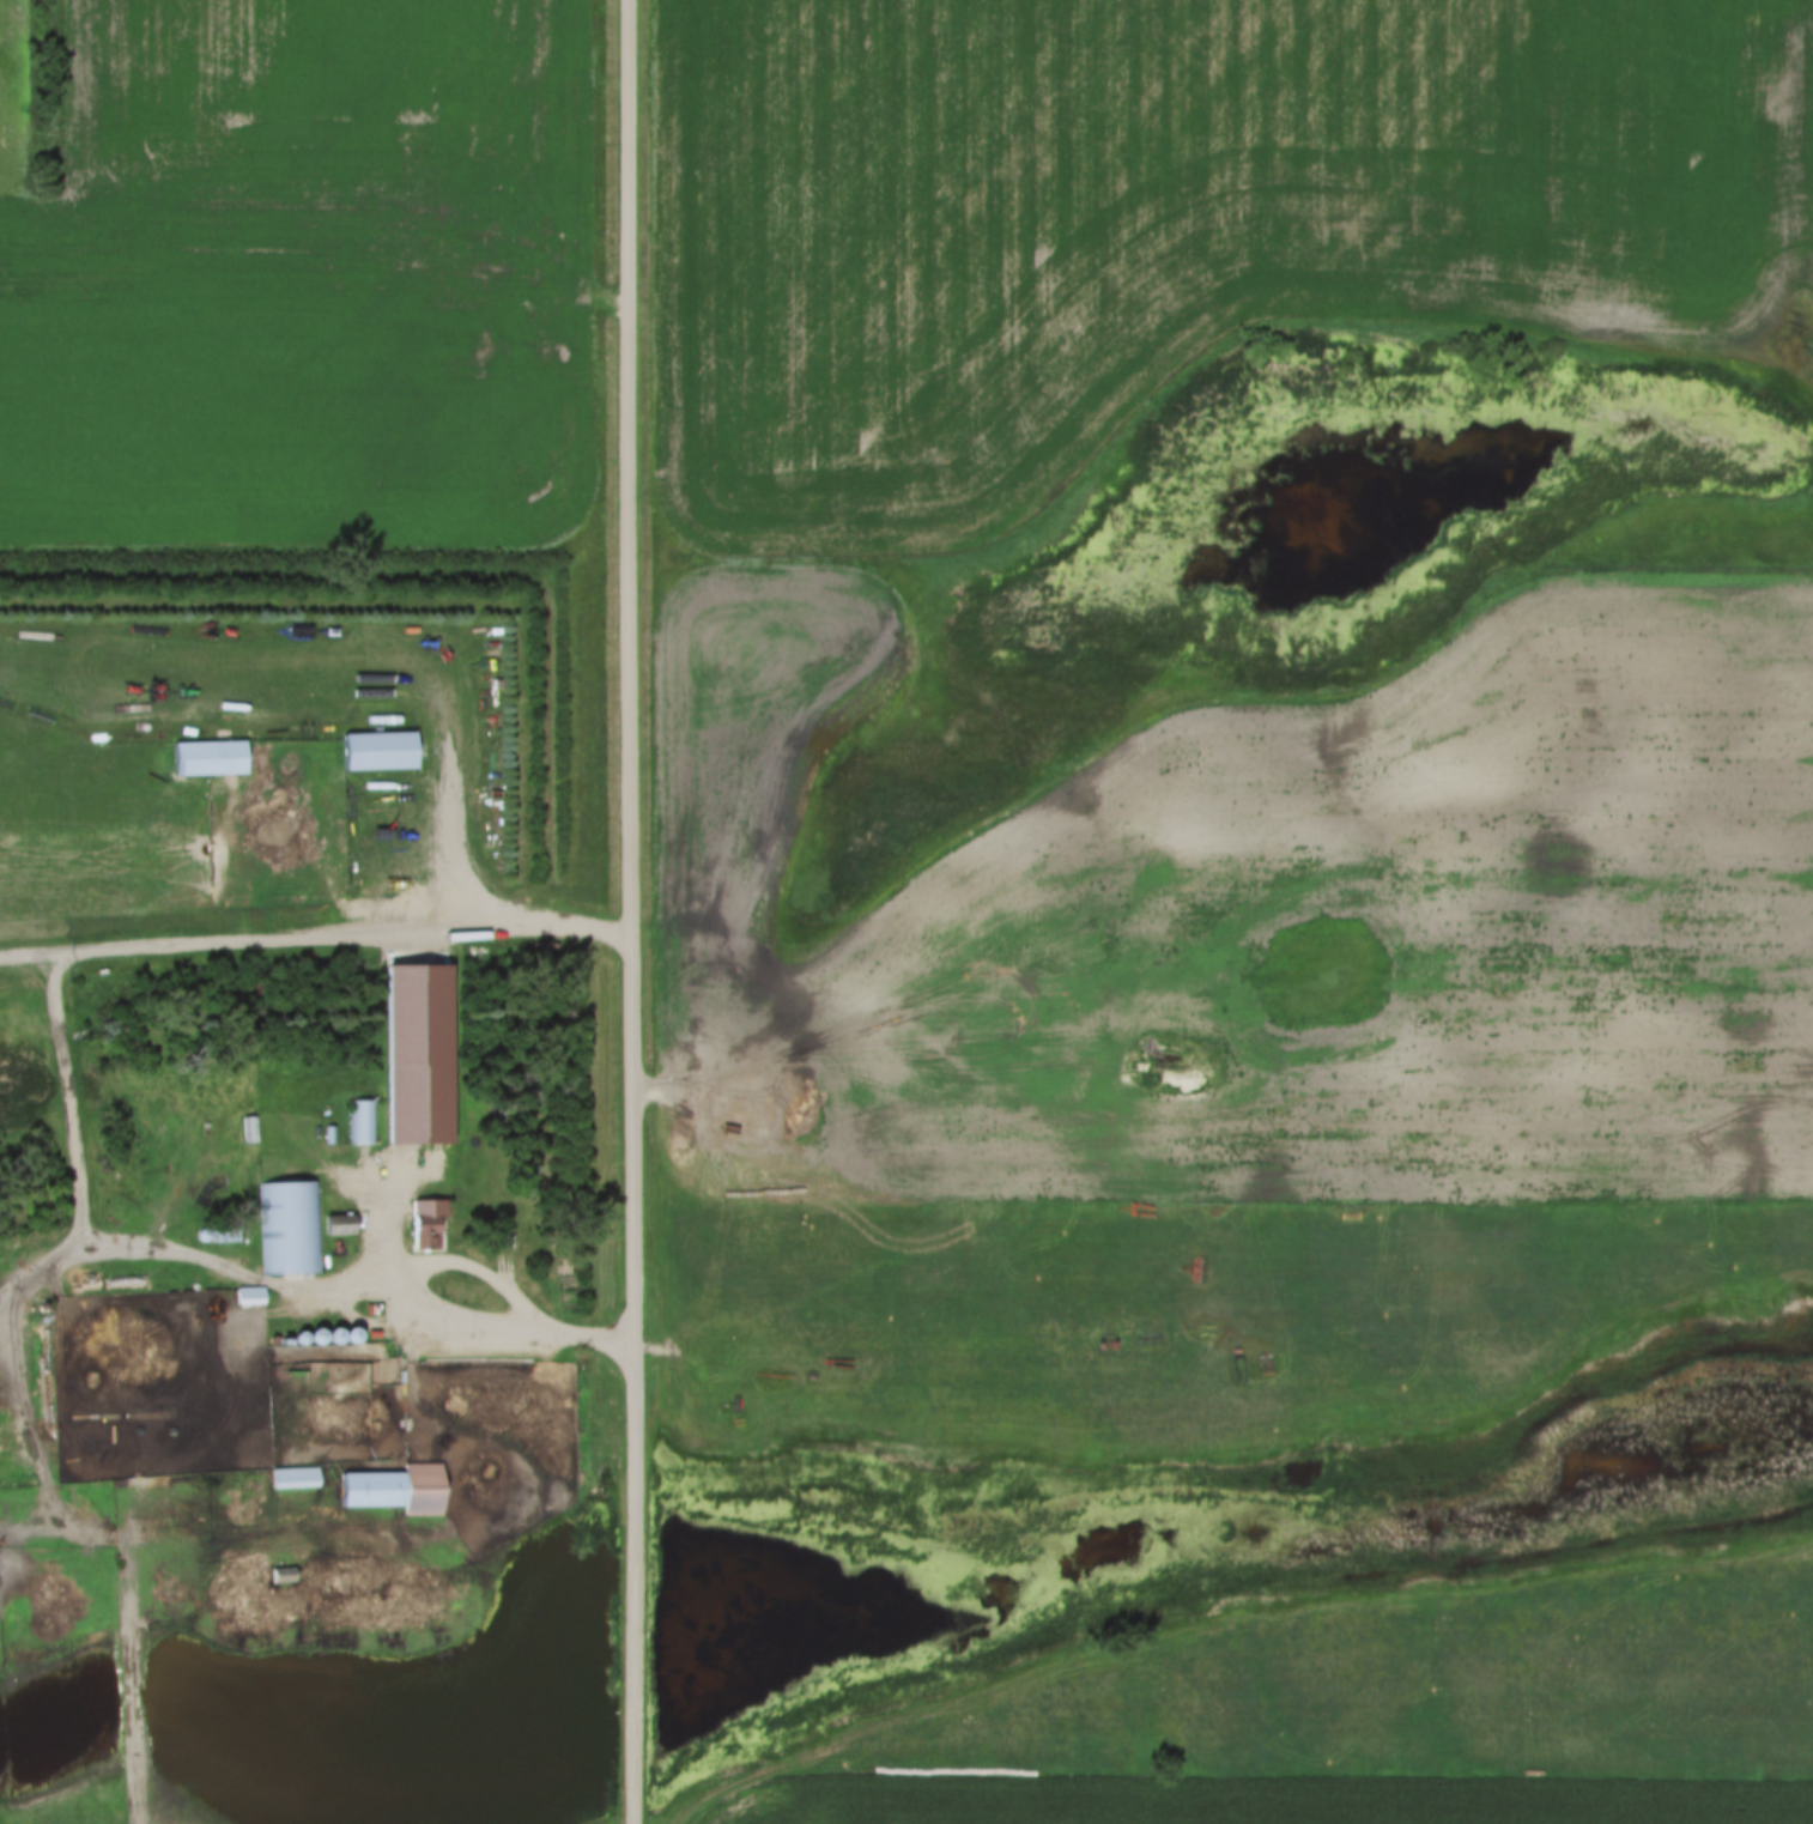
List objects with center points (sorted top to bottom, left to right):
building: (377, 752)
building: (207, 759)
road: (635, 911)
road: (317, 940)
building: (358, 1069)
road: (80, 1099)
building: (360, 1121)
building: (254, 1131)
building: (329, 1135)
building: (380, 1138)
silo: (380, 1138)
building: (423, 1223)
building: (339, 1224)
building: (293, 1228)
building: (226, 1231)
building: (204, 1235)
silo: (204, 1235)
building: (503, 1236)
building: (250, 1296)
building: (43, 1308)
silo: (43, 1308)
road: (359, 1315)
building: (332, 1335)
silo: (332, 1335)
building: (315, 1337)
silo: (315, 1337)
building: (347, 1337)
silo: (347, 1337)
building: (299, 1338)
silo: (299, 1338)
building: (350, 1380)
building: (80, 1420)
building: (293, 1479)
building: (392, 1490)
building: (72, 1503)
building: (281, 1576)

